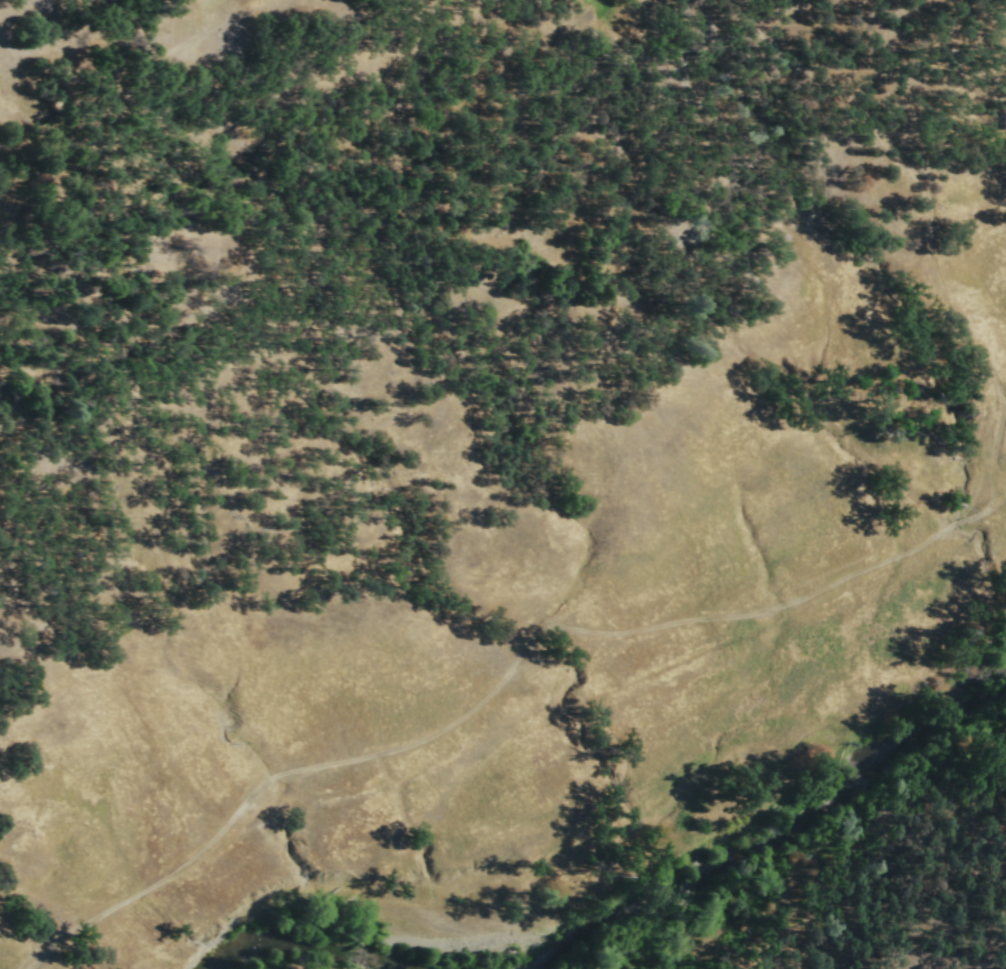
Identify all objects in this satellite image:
river: (772, 832)
river: (315, 943)

